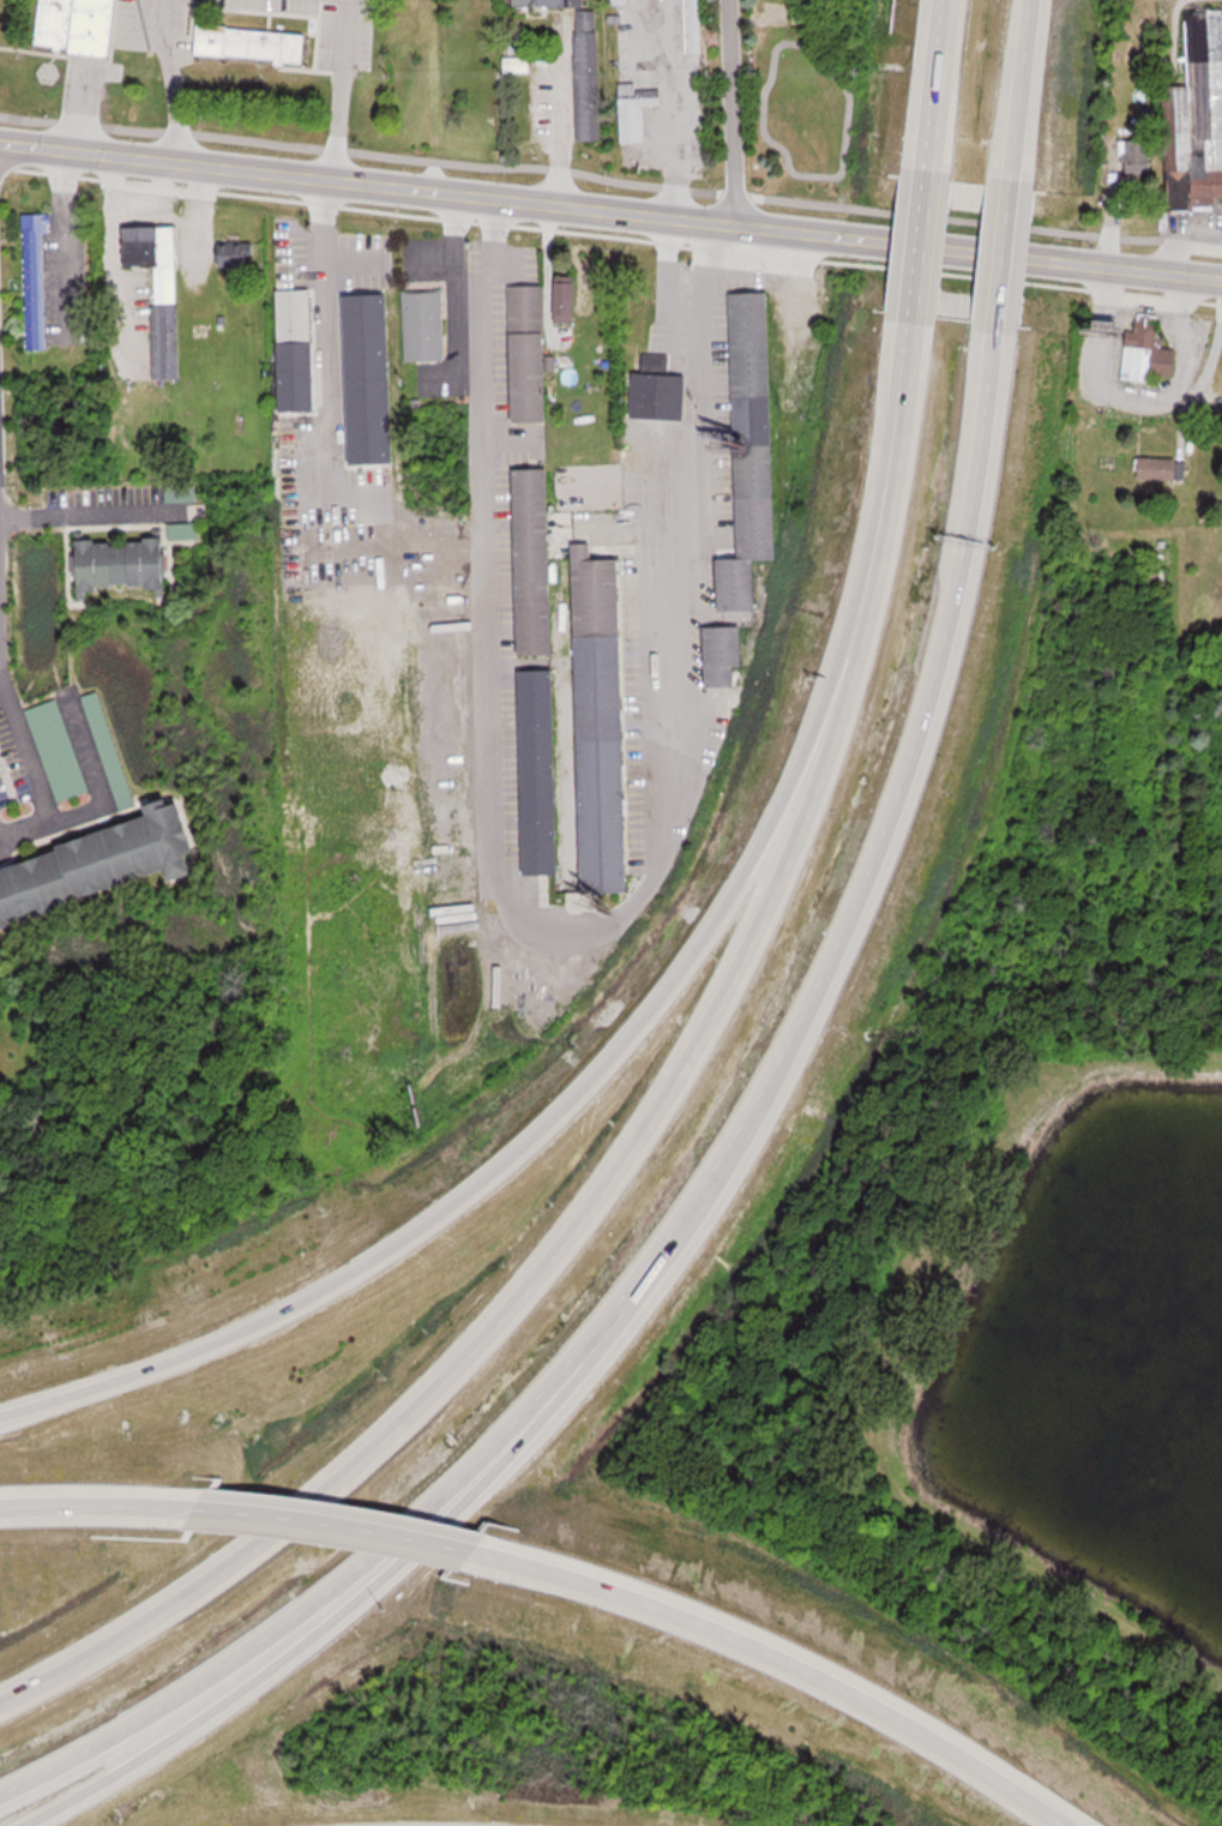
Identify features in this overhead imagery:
building: (619, 1)
building: (80, 25)
building: (694, 28)
building: (252, 43)
building: (582, 64)
building: (518, 65)
park: (205, 71)
road: (935, 79)
road: (1023, 80)
road: (174, 86)
road: (341, 89)
road: (83, 106)
building: (634, 109)
road: (733, 110)
building: (1197, 118)
building: (1137, 157)
road: (610, 208)
road: (919, 232)
road: (1006, 239)
road: (64, 245)
building: (237, 253)
building: (36, 278)
building: (159, 290)
building: (566, 298)
building: (528, 306)
building: (638, 310)
building: (295, 316)
road: (327, 319)
building: (425, 325)
building: (373, 334)
building: (1148, 350)
building: (656, 359)
building: (530, 377)
building: (660, 392)
road: (896, 409)
building: (373, 414)
building: (752, 445)
building: (1162, 468)
road: (77, 521)
building: (130, 558)
building: (535, 559)
building: (723, 653)
building: (601, 717)
road: (26, 749)
building: (58, 749)
building: (540, 770)
road: (101, 803)
road: (879, 840)
building: (100, 864)
road: (567, 925)
road: (576, 1103)
road: (590, 1218)
road: (878, 1335)
park: (987, 1376)
road: (95, 1504)
road: (327, 1519)
road: (335, 1585)
road: (354, 1603)
road: (770, 1660)

